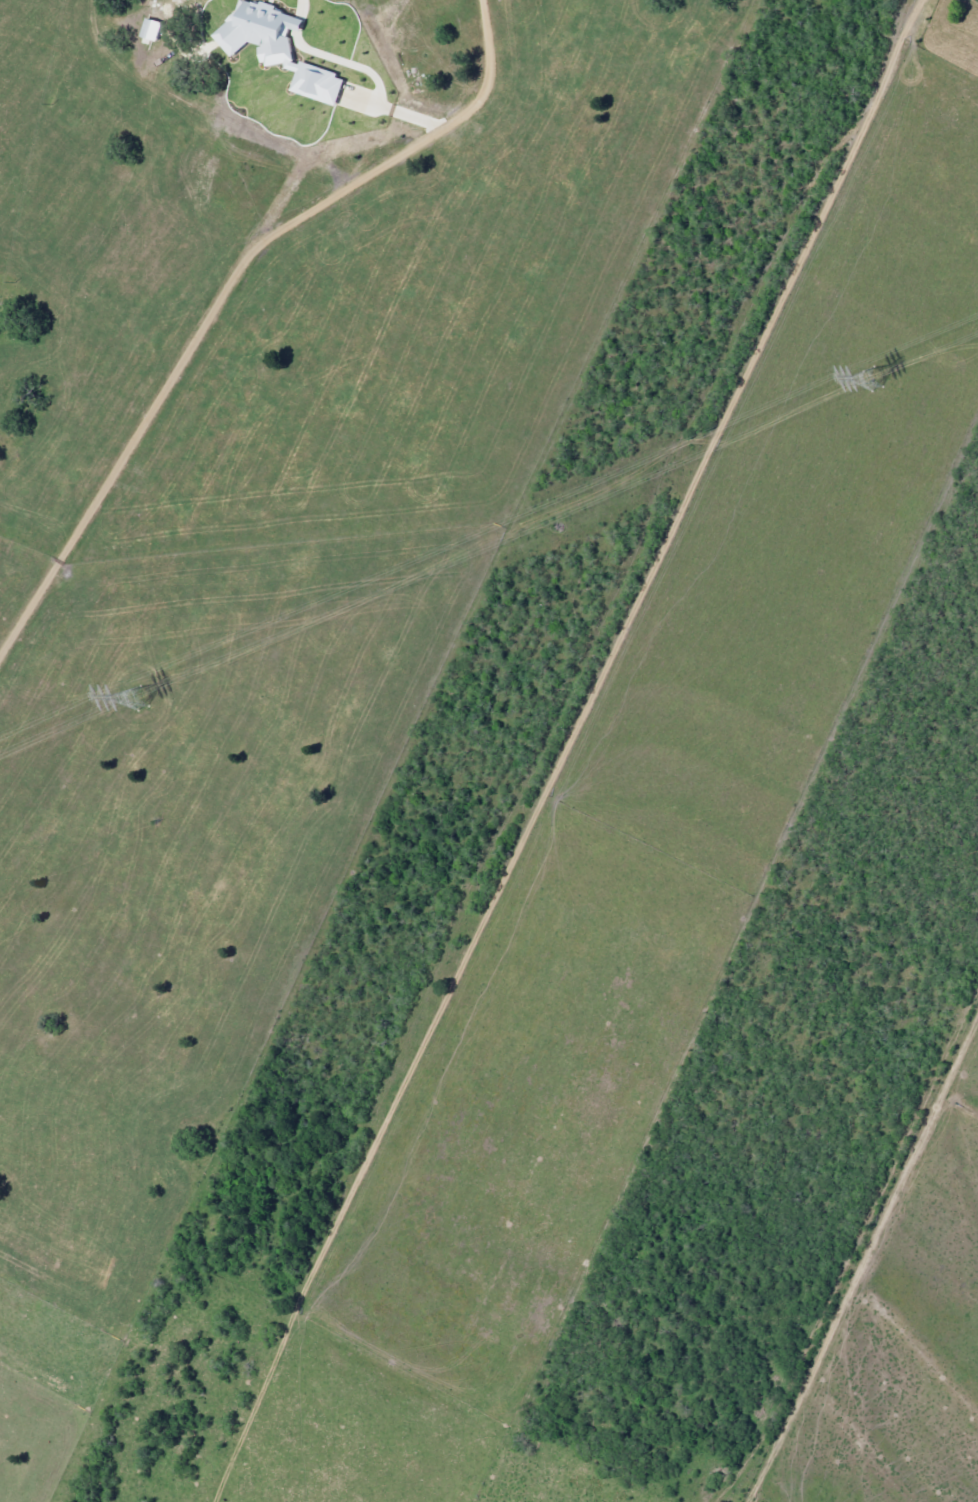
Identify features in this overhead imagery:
building: (153, 29)
building: (281, 47)
road: (7, 54)
road: (202, 322)
power tower: (867, 380)
power tower: (135, 700)
road: (864, 1255)

